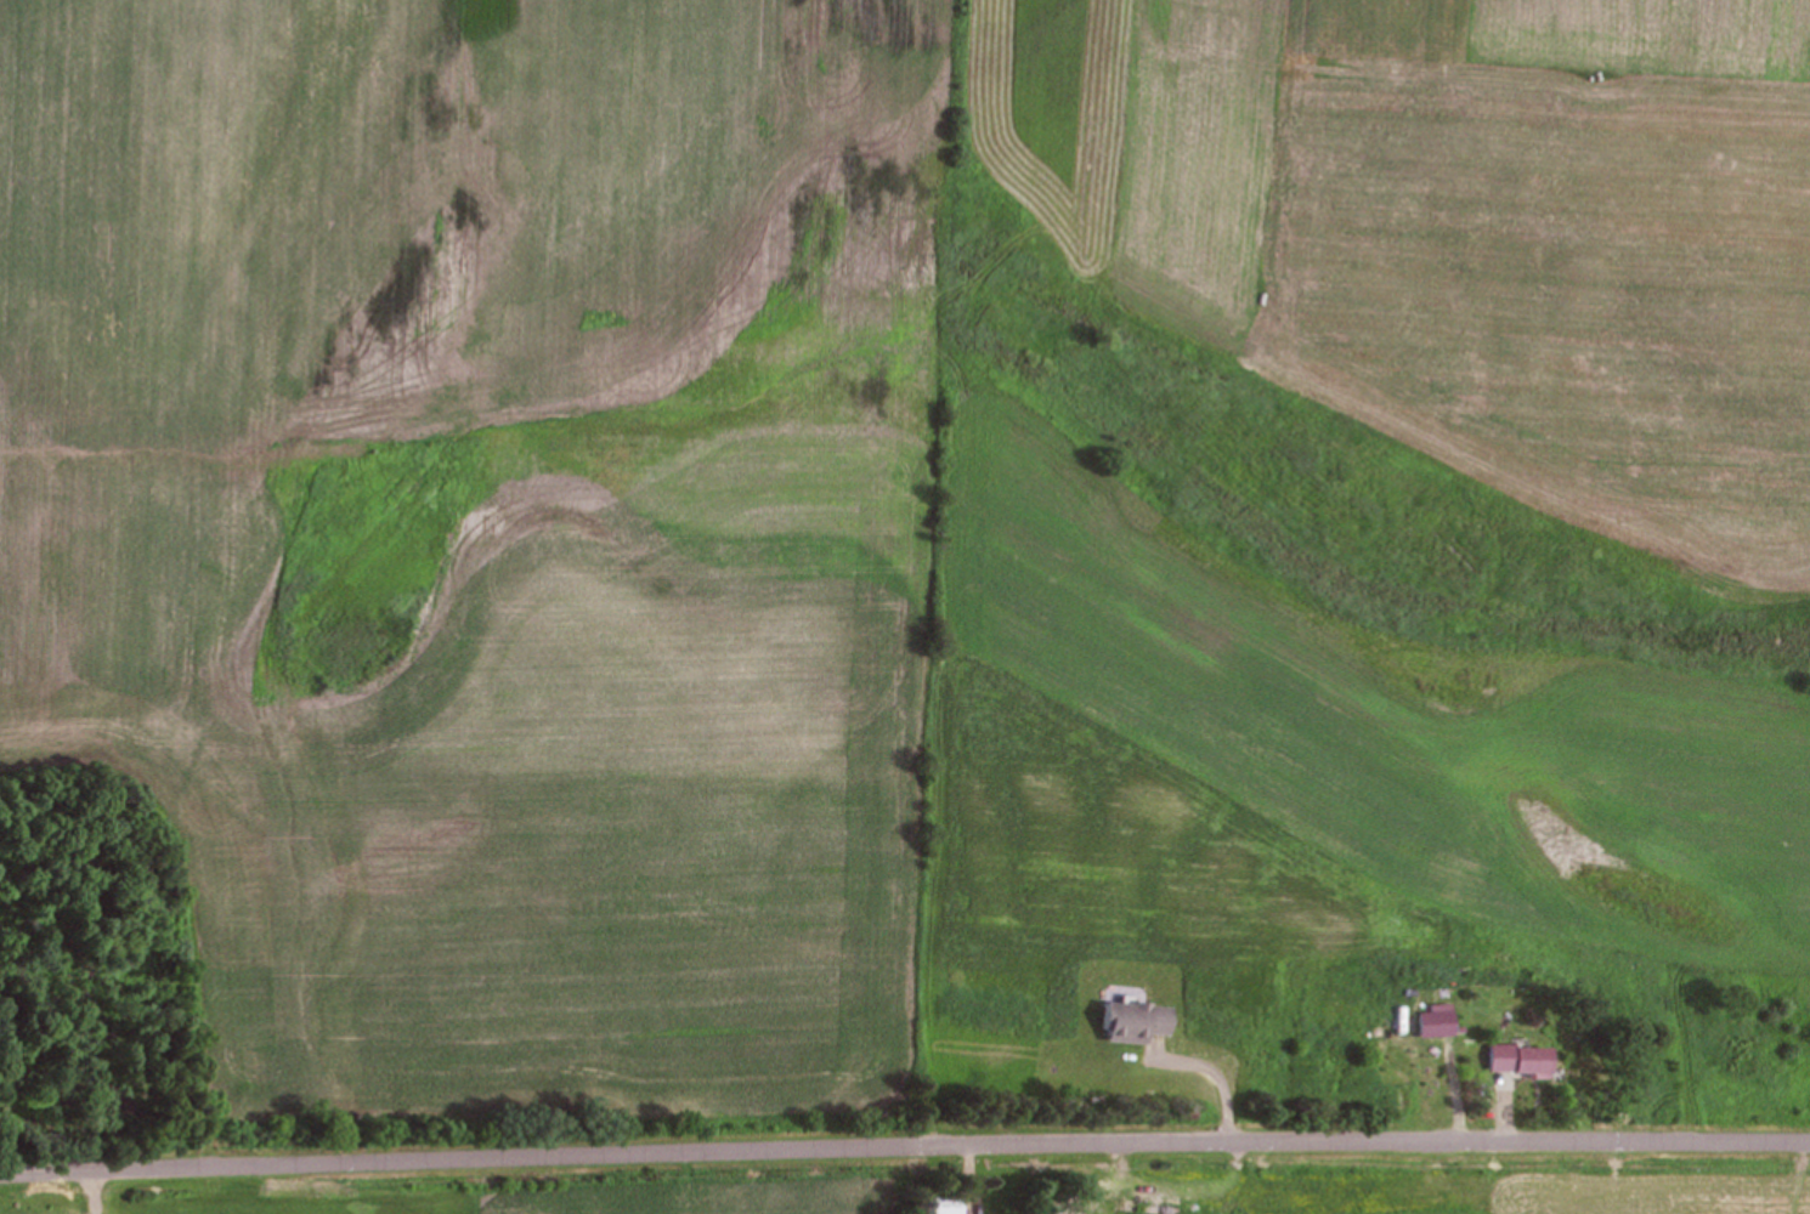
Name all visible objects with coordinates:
building: (1133, 1021)
building: (1518, 1059)
road: (905, 1148)
road: (104, 1186)
building: (948, 1202)
building: (1067, 1207)

